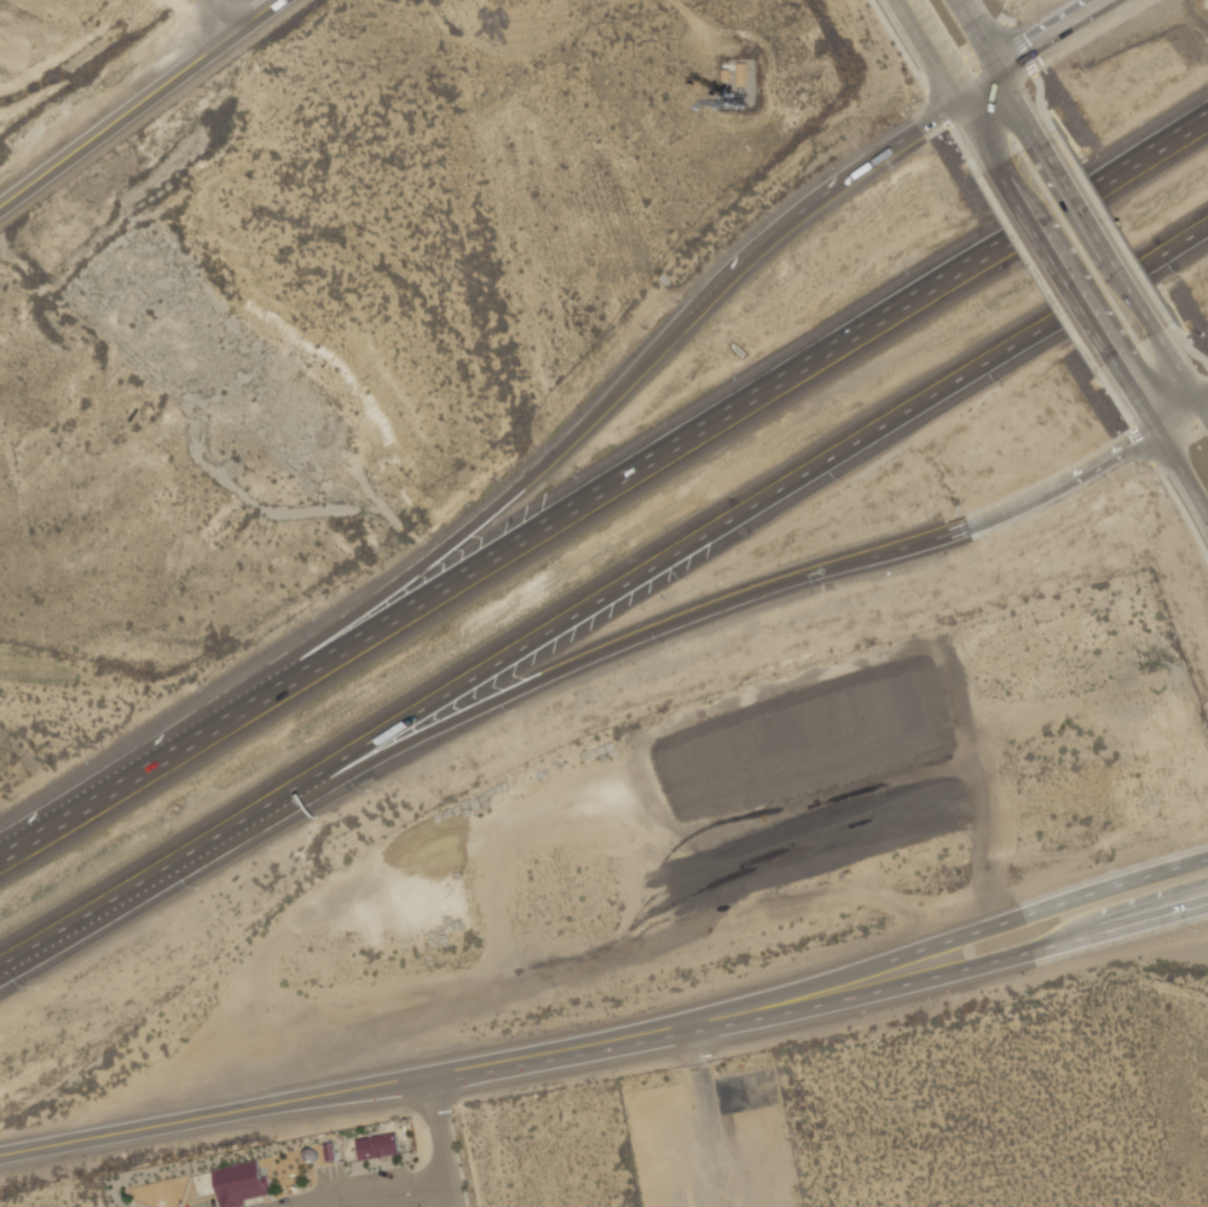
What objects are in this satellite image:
road: (216, 19)
road: (1070, 27)
road: (978, 36)
road: (1024, 48)
road: (927, 51)
road: (1013, 64)
road: (979, 88)
street lamp: (1034, 92)
road: (1040, 103)
road: (140, 106)
road: (1019, 106)
road: (938, 110)
road: (1173, 133)
road: (909, 134)
road: (978, 134)
street lamp: (953, 140)
street lamp: (1100, 148)
road: (967, 151)
road: (1076, 198)
street lamp: (771, 208)
road: (1112, 225)
road: (1191, 236)
road: (767, 244)
road: (1057, 262)
street lamp: (913, 264)
road: (1040, 271)
street lamp: (1183, 273)
road: (1137, 294)
street lamp: (652, 329)
street lamp: (1203, 334)
road: (1185, 343)
road: (1181, 366)
street lamp: (740, 370)
street lamp: (1004, 382)
road: (1115, 395)
road: (1137, 395)
road: (1206, 399)
road: (1206, 405)
road: (1180, 416)
street lamp: (1119, 421)
road: (680, 438)
road: (1143, 444)
street lamp: (534, 451)
street lamp: (580, 467)
street lamp: (1151, 468)
road: (1183, 470)
street lamp: (845, 480)
street lamp: (1112, 480)
road: (1067, 483)
road: (1183, 509)
road: (709, 535)
street lamp: (432, 536)
road: (459, 537)
street lamp: (990, 539)
road: (918, 544)
street lamp: (690, 581)
street lamp: (823, 587)
street lamp: (322, 612)
street lamp: (666, 641)
road: (547, 677)
street lamp: (208, 681)
street lamp: (514, 712)
street lamp: (96, 755)
road: (109, 787)
street lamp: (366, 792)
street lamp: (1112, 866)
street lamp: (198, 887)
road: (1114, 887)
road: (122, 895)
street lamp: (1200, 930)
street lamp: (31, 986)
road: (838, 1000)
road: (745, 1001)
road: (231, 1110)
building: (753, 1116)
road: (445, 1140)
building: (377, 1145)
building: (329, 1153)
building: (308, 1154)
storage tank: (308, 1154)
building: (241, 1183)
road: (415, 1192)
road: (351, 1202)
road: (376, 1202)

